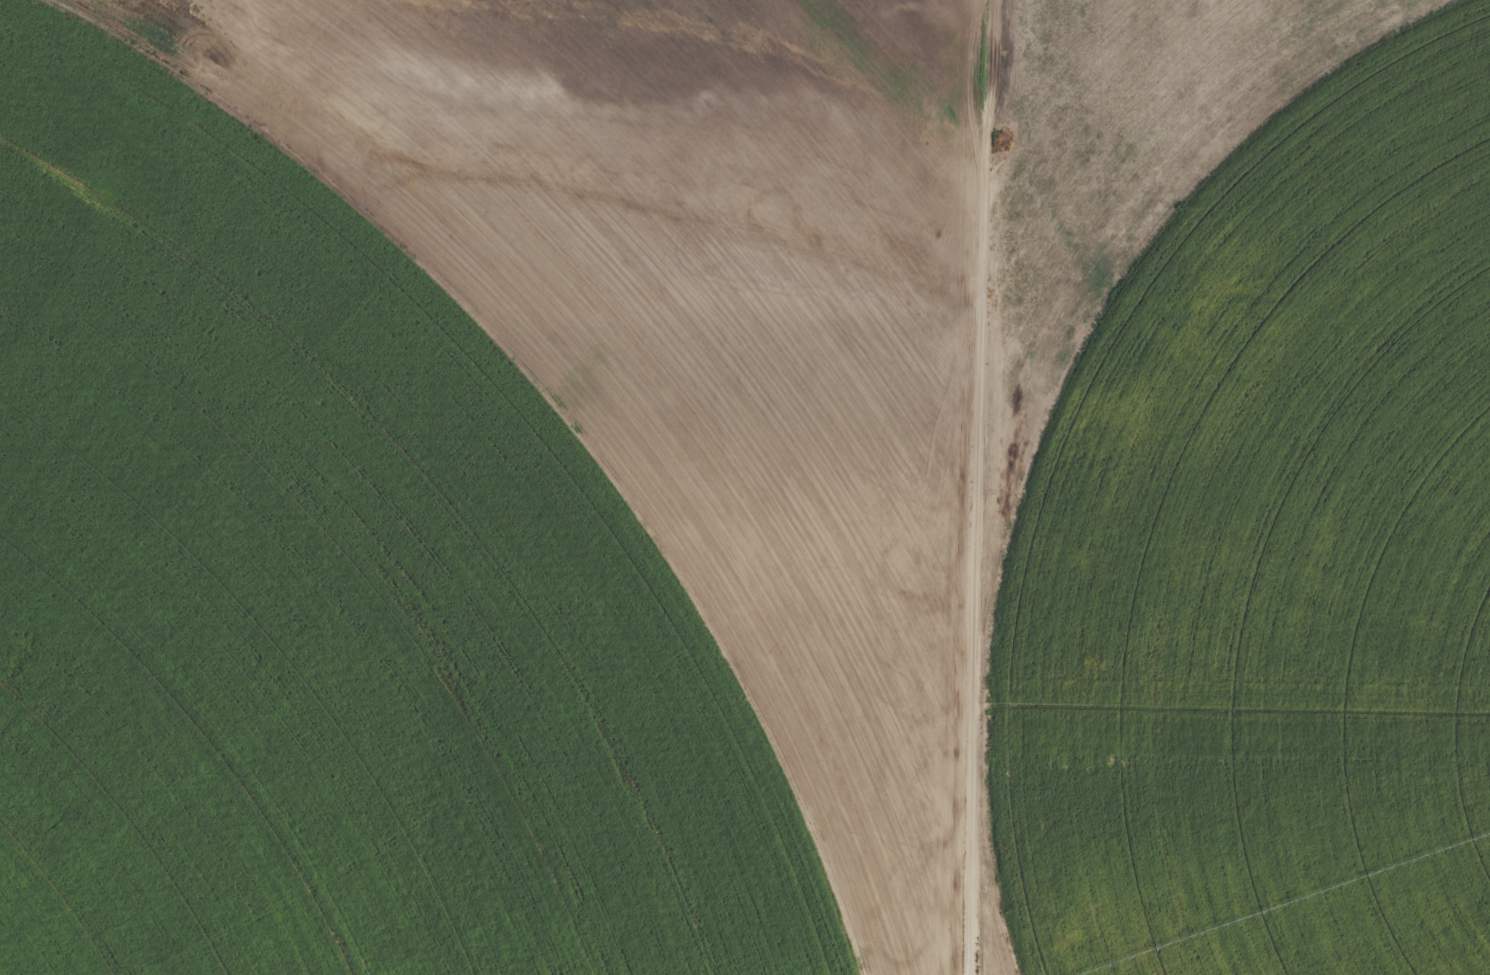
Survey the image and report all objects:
road: (981, 487)

